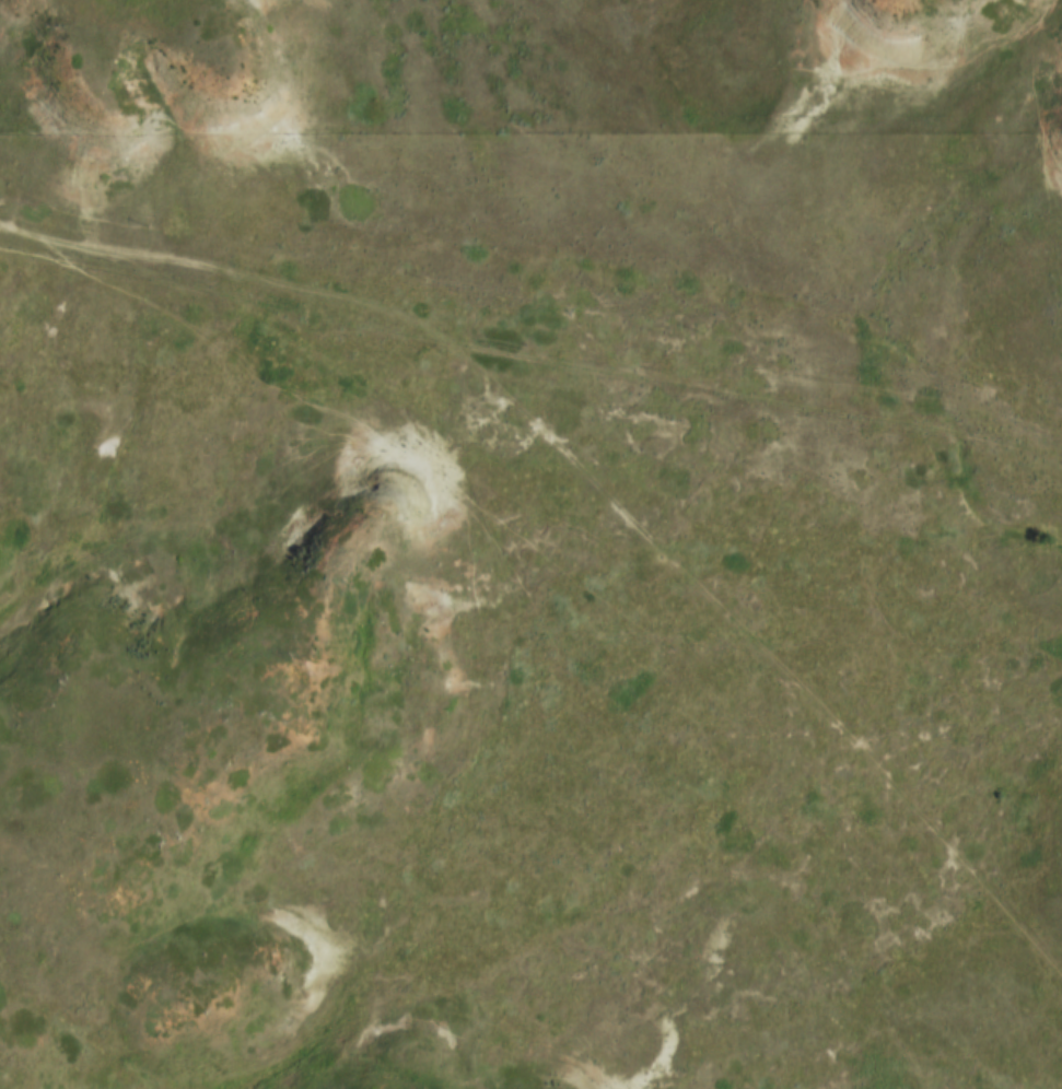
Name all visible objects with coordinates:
road: (594, 485)

